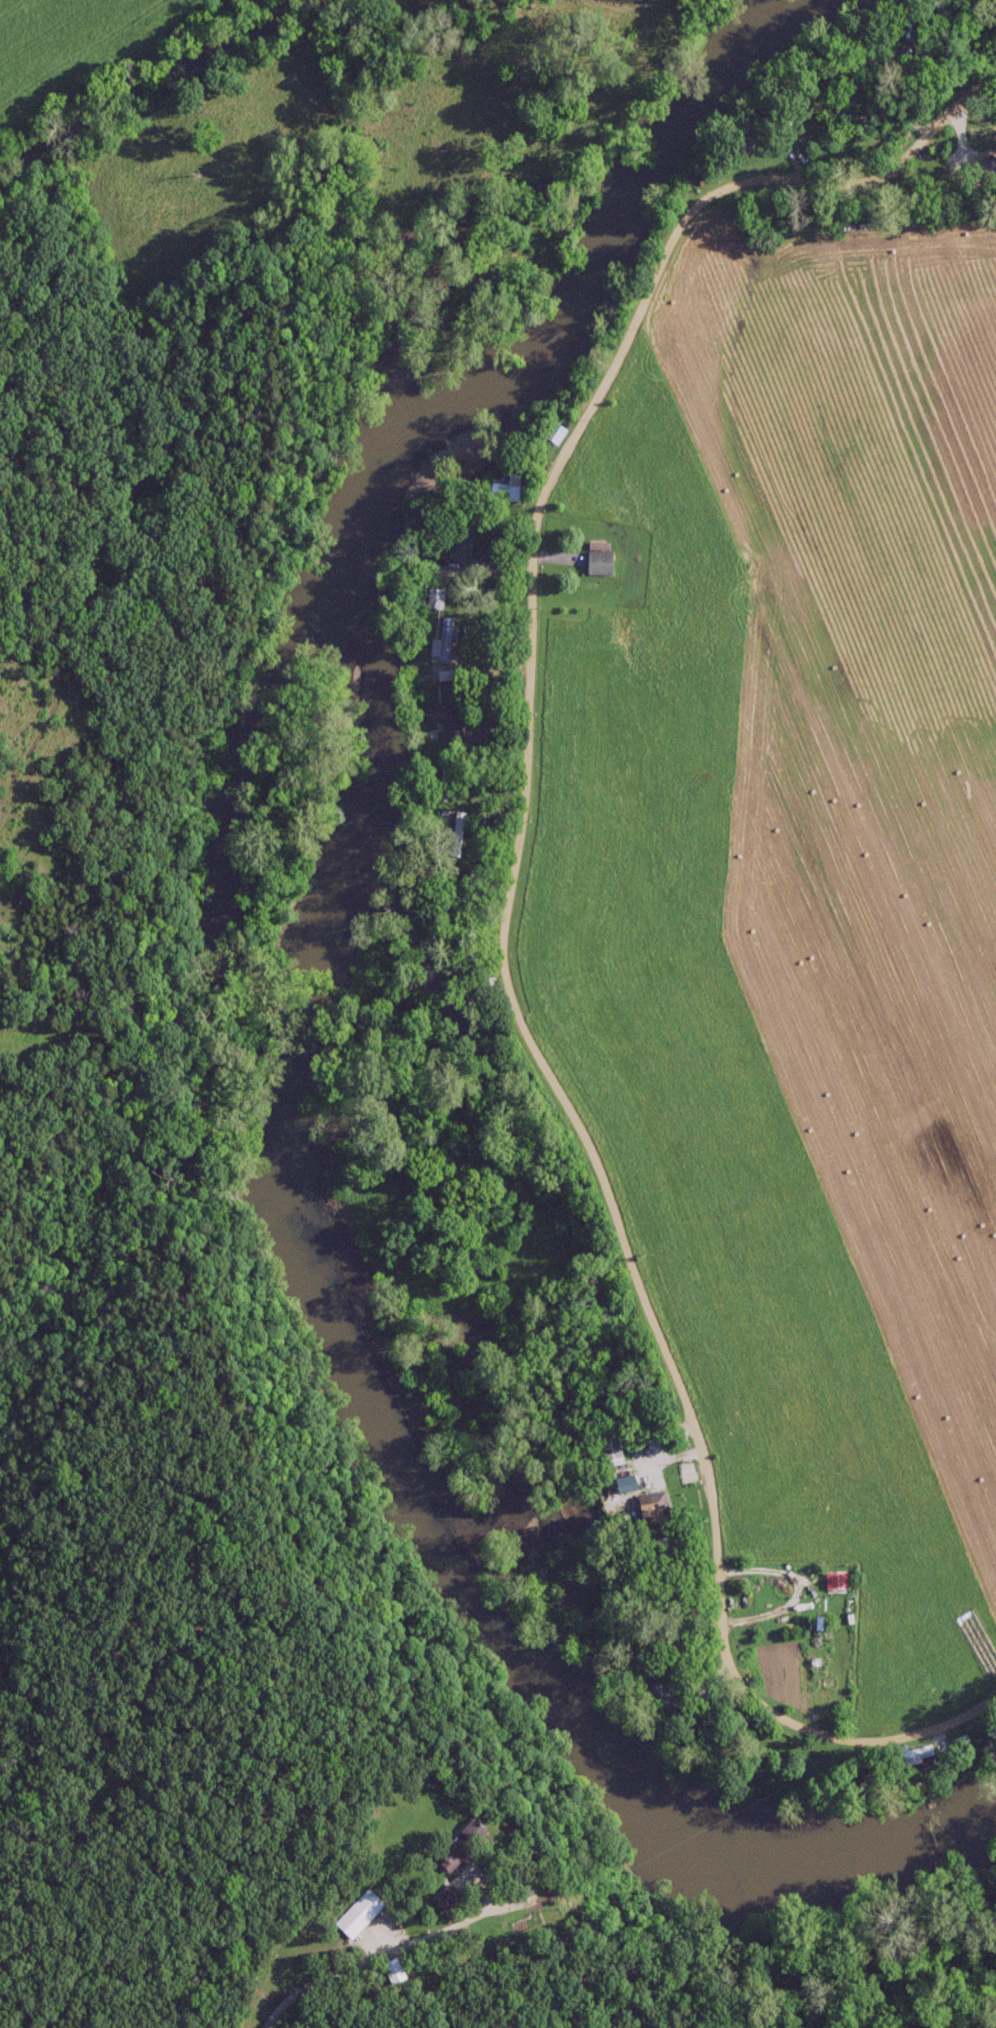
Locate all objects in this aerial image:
building: (547, 435)
building: (498, 493)
building: (592, 565)
building: (434, 651)
building: (439, 723)
road: (504, 913)
building: (603, 1314)
building: (604, 1453)
building: (909, 1757)
building: (454, 1845)
building: (360, 1914)

